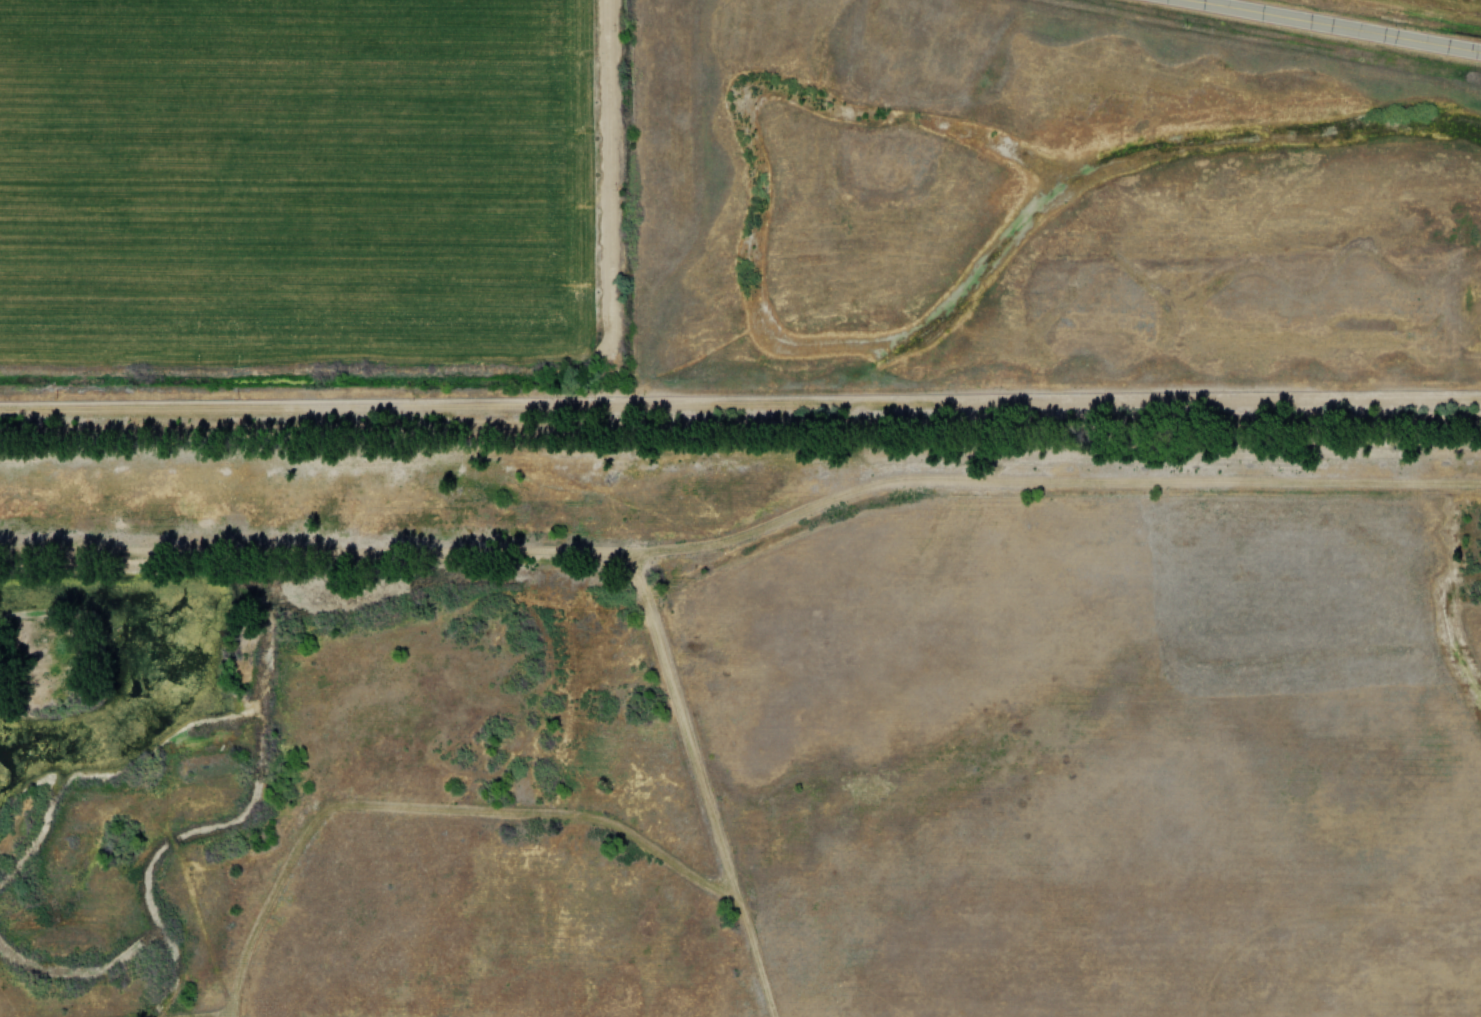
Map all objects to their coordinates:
road: (1324, 29)

